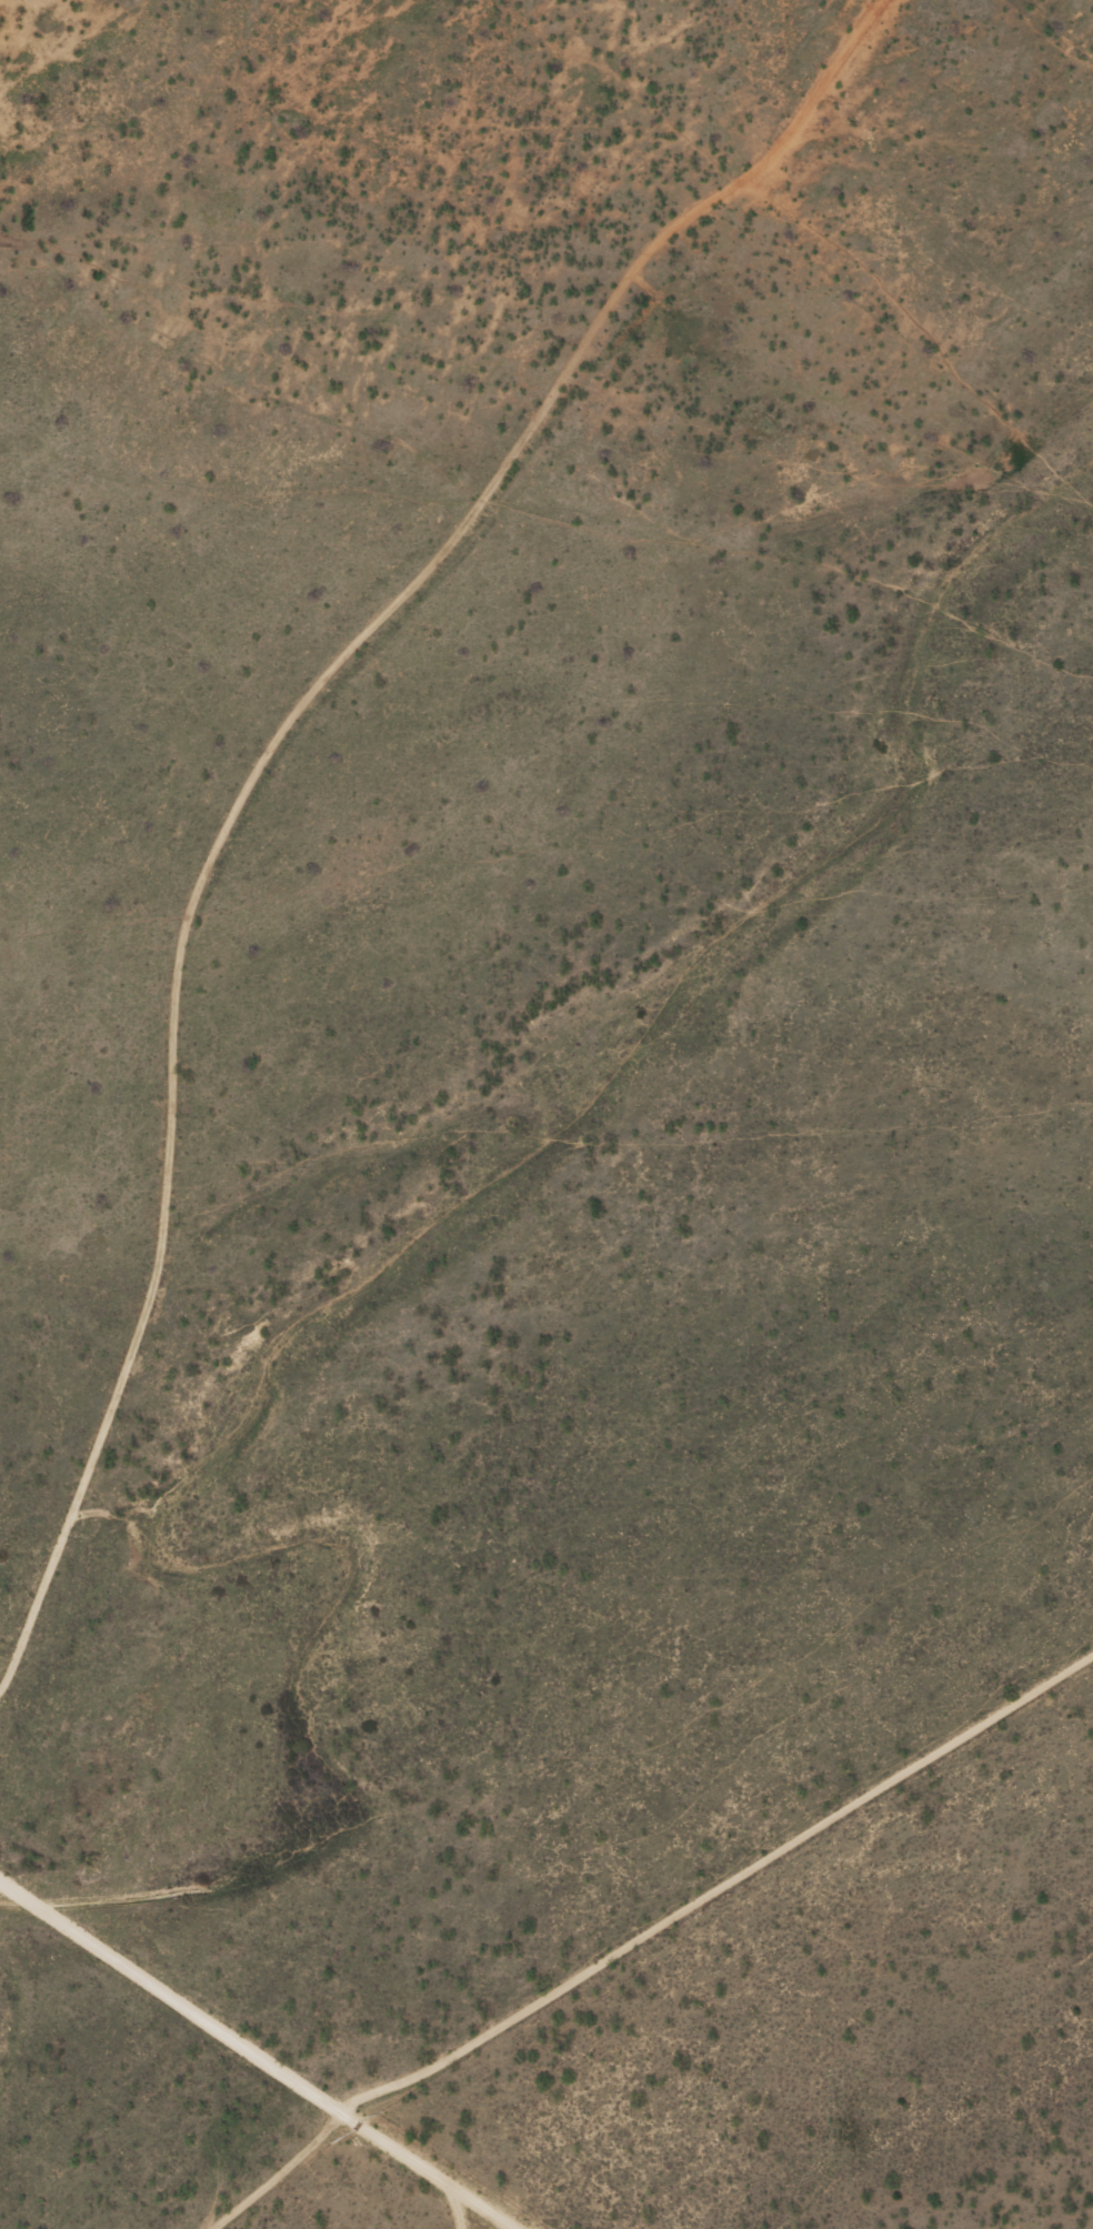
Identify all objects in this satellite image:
road: (301, 772)

